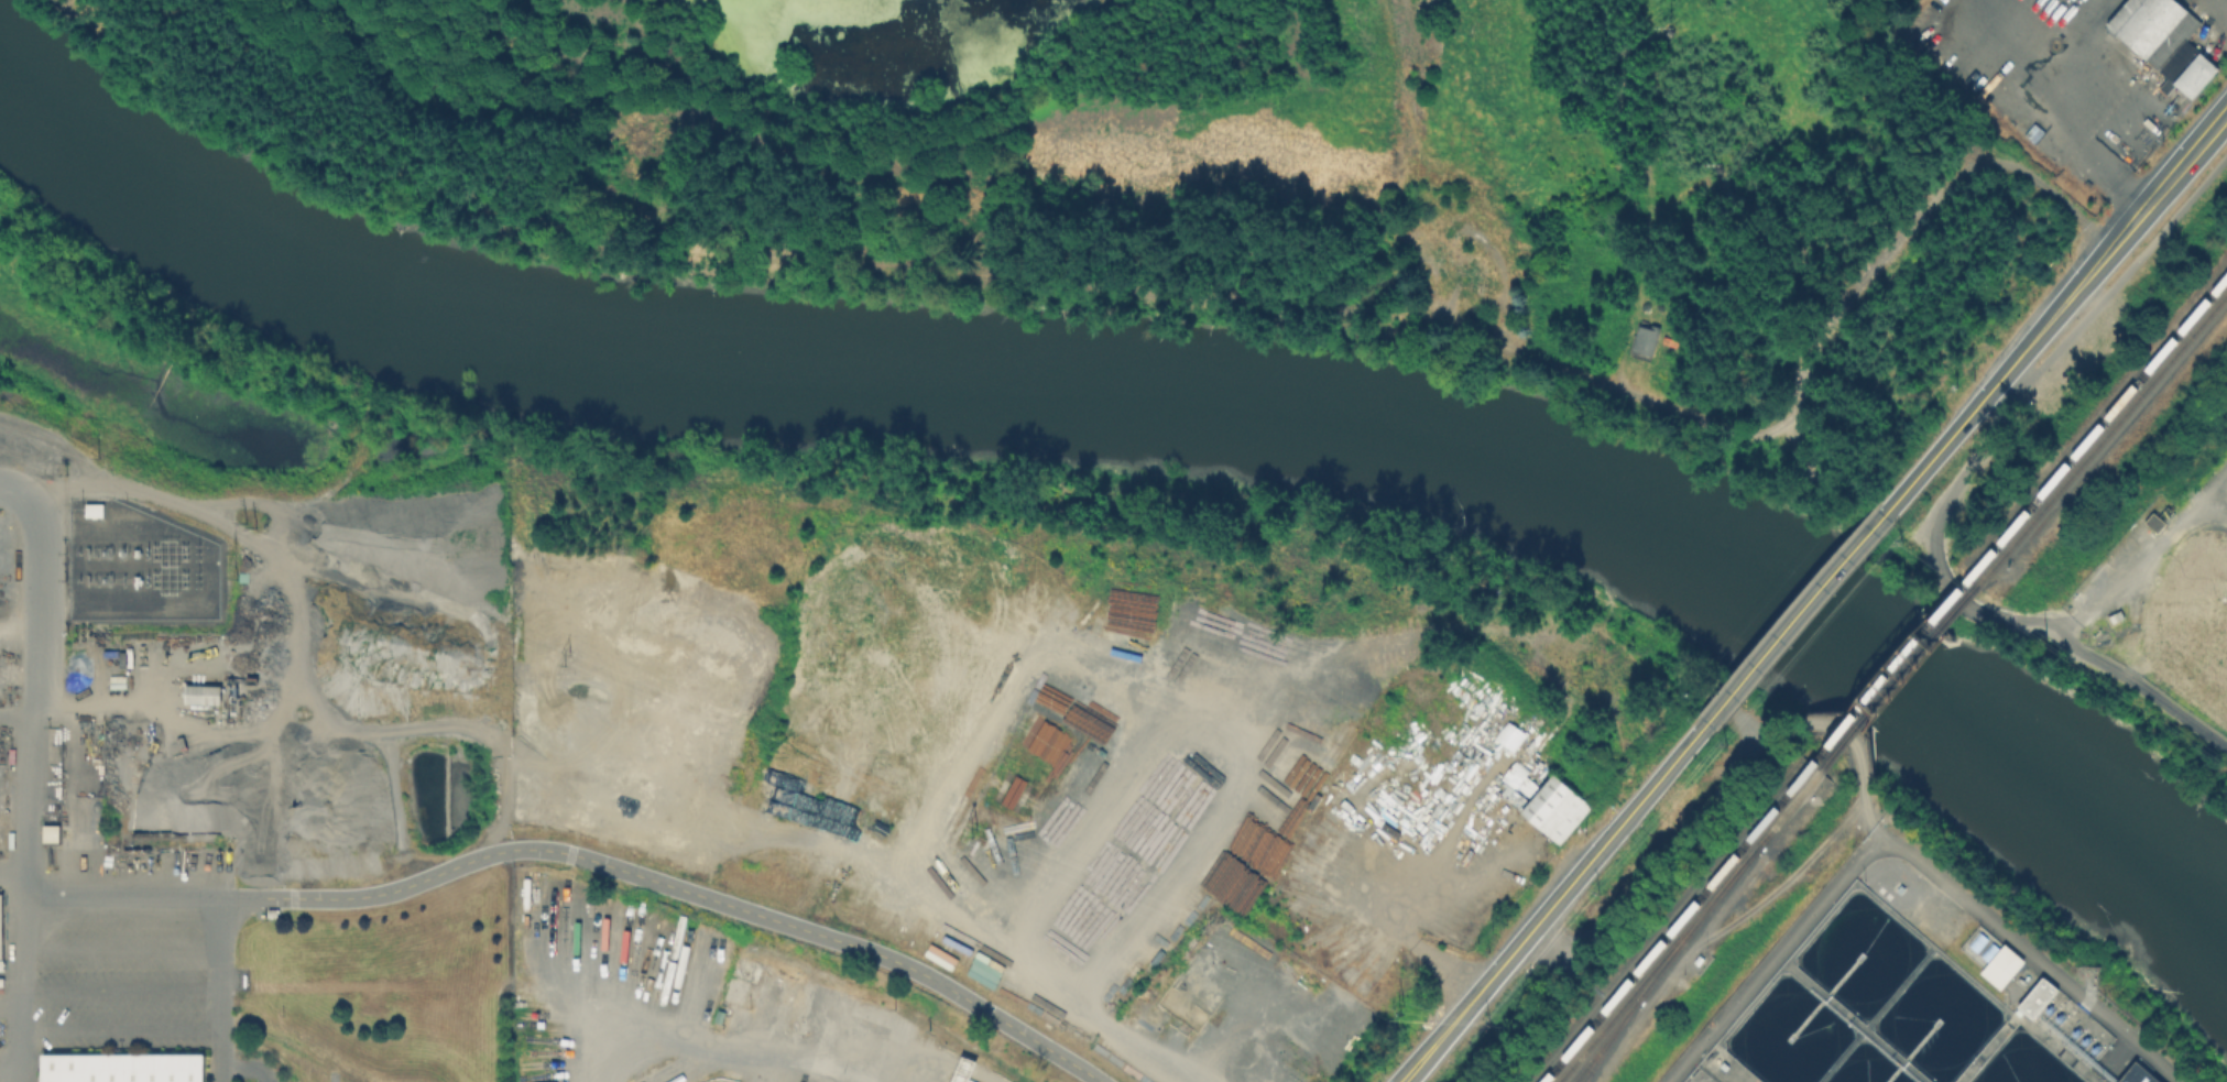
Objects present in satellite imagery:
road: (2075, 13)
road: (2103, 13)
building: (2161, 42)
road: (2044, 125)
road: (2107, 251)
road: (2119, 282)
building: (1648, 336)
road: (1808, 371)
road: (1998, 398)
railway: (2098, 425)
road: (1991, 428)
railway: (2103, 437)
road: (1937, 450)
building: (91, 507)
road: (1937, 517)
building: (2157, 522)
power substation: (138, 565)
wastewater plant: (2171, 583)
road: (1797, 615)
building: (2117, 617)
road: (1074, 654)
road: (2087, 654)
railway: (1891, 670)
railway: (1899, 677)
building: (201, 693)
building: (1508, 734)
road: (30, 770)
road: (1725, 791)
building: (1553, 808)
building: (50, 832)
road: (1913, 853)
road: (583, 857)
road: (1794, 871)
road: (1438, 892)
road: (1555, 903)
railway: (1675, 922)
railway: (1686, 926)
building: (0, 928)
road: (123, 944)
building: (1696, 958)
railway: (1662, 963)
building: (2001, 963)
road: (123, 986)
building: (734, 988)
road: (222, 990)
wastewater plant: (1923, 990)
building: (2035, 995)
road: (123, 1028)
railway: (1606, 1040)
road: (1133, 1045)
road: (714, 1047)
building: (121, 1067)
building: (2137, 1074)

